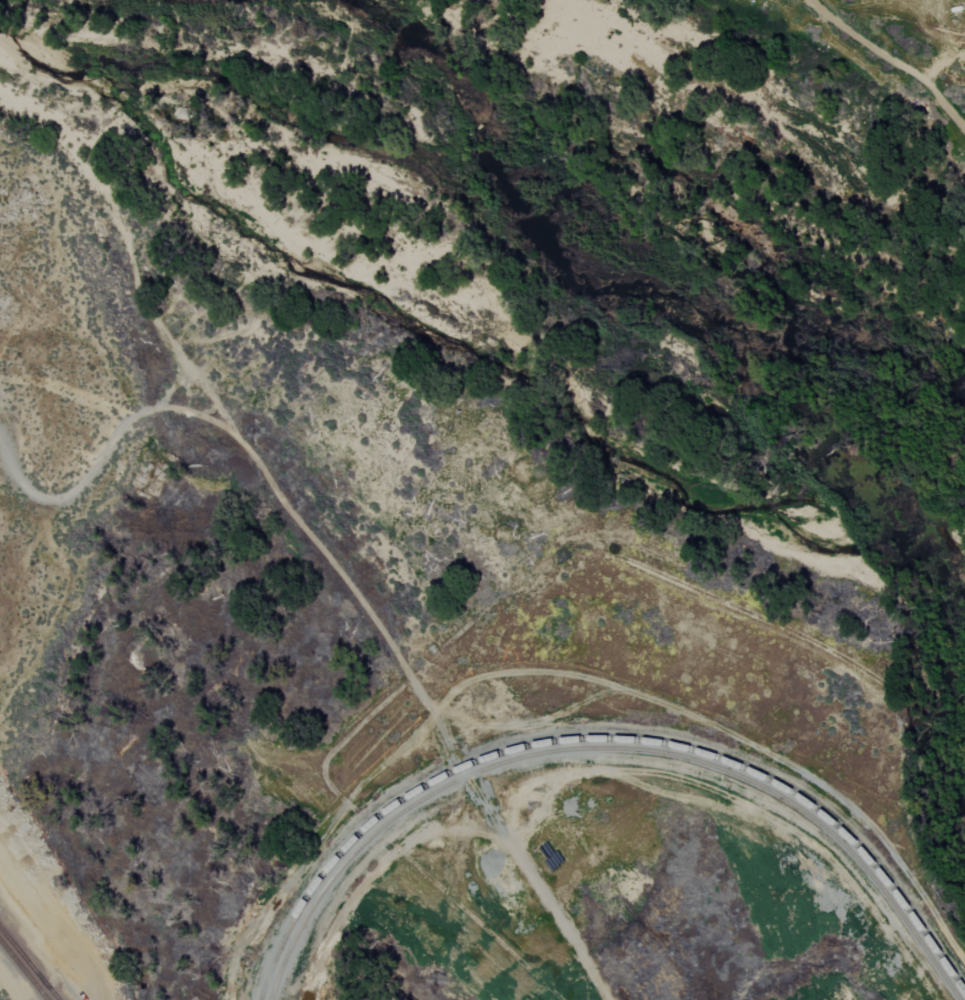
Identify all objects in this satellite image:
river: (565, 248)
road: (344, 583)
railway: (607, 747)
railway: (610, 755)
railway: (24, 957)
railway: (24, 958)
railway: (23, 970)
railway: (53, 993)

